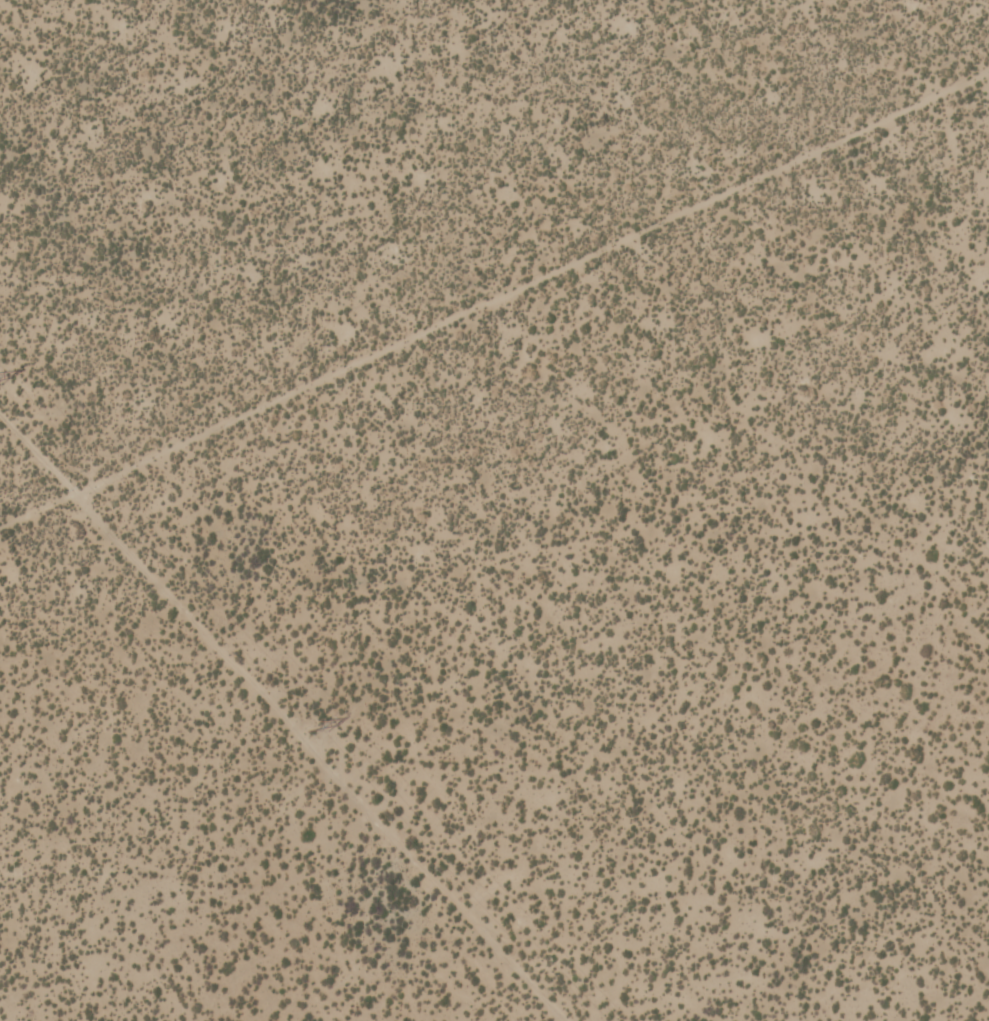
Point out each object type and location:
road: (494, 294)
road: (284, 717)
power tower: (311, 723)

